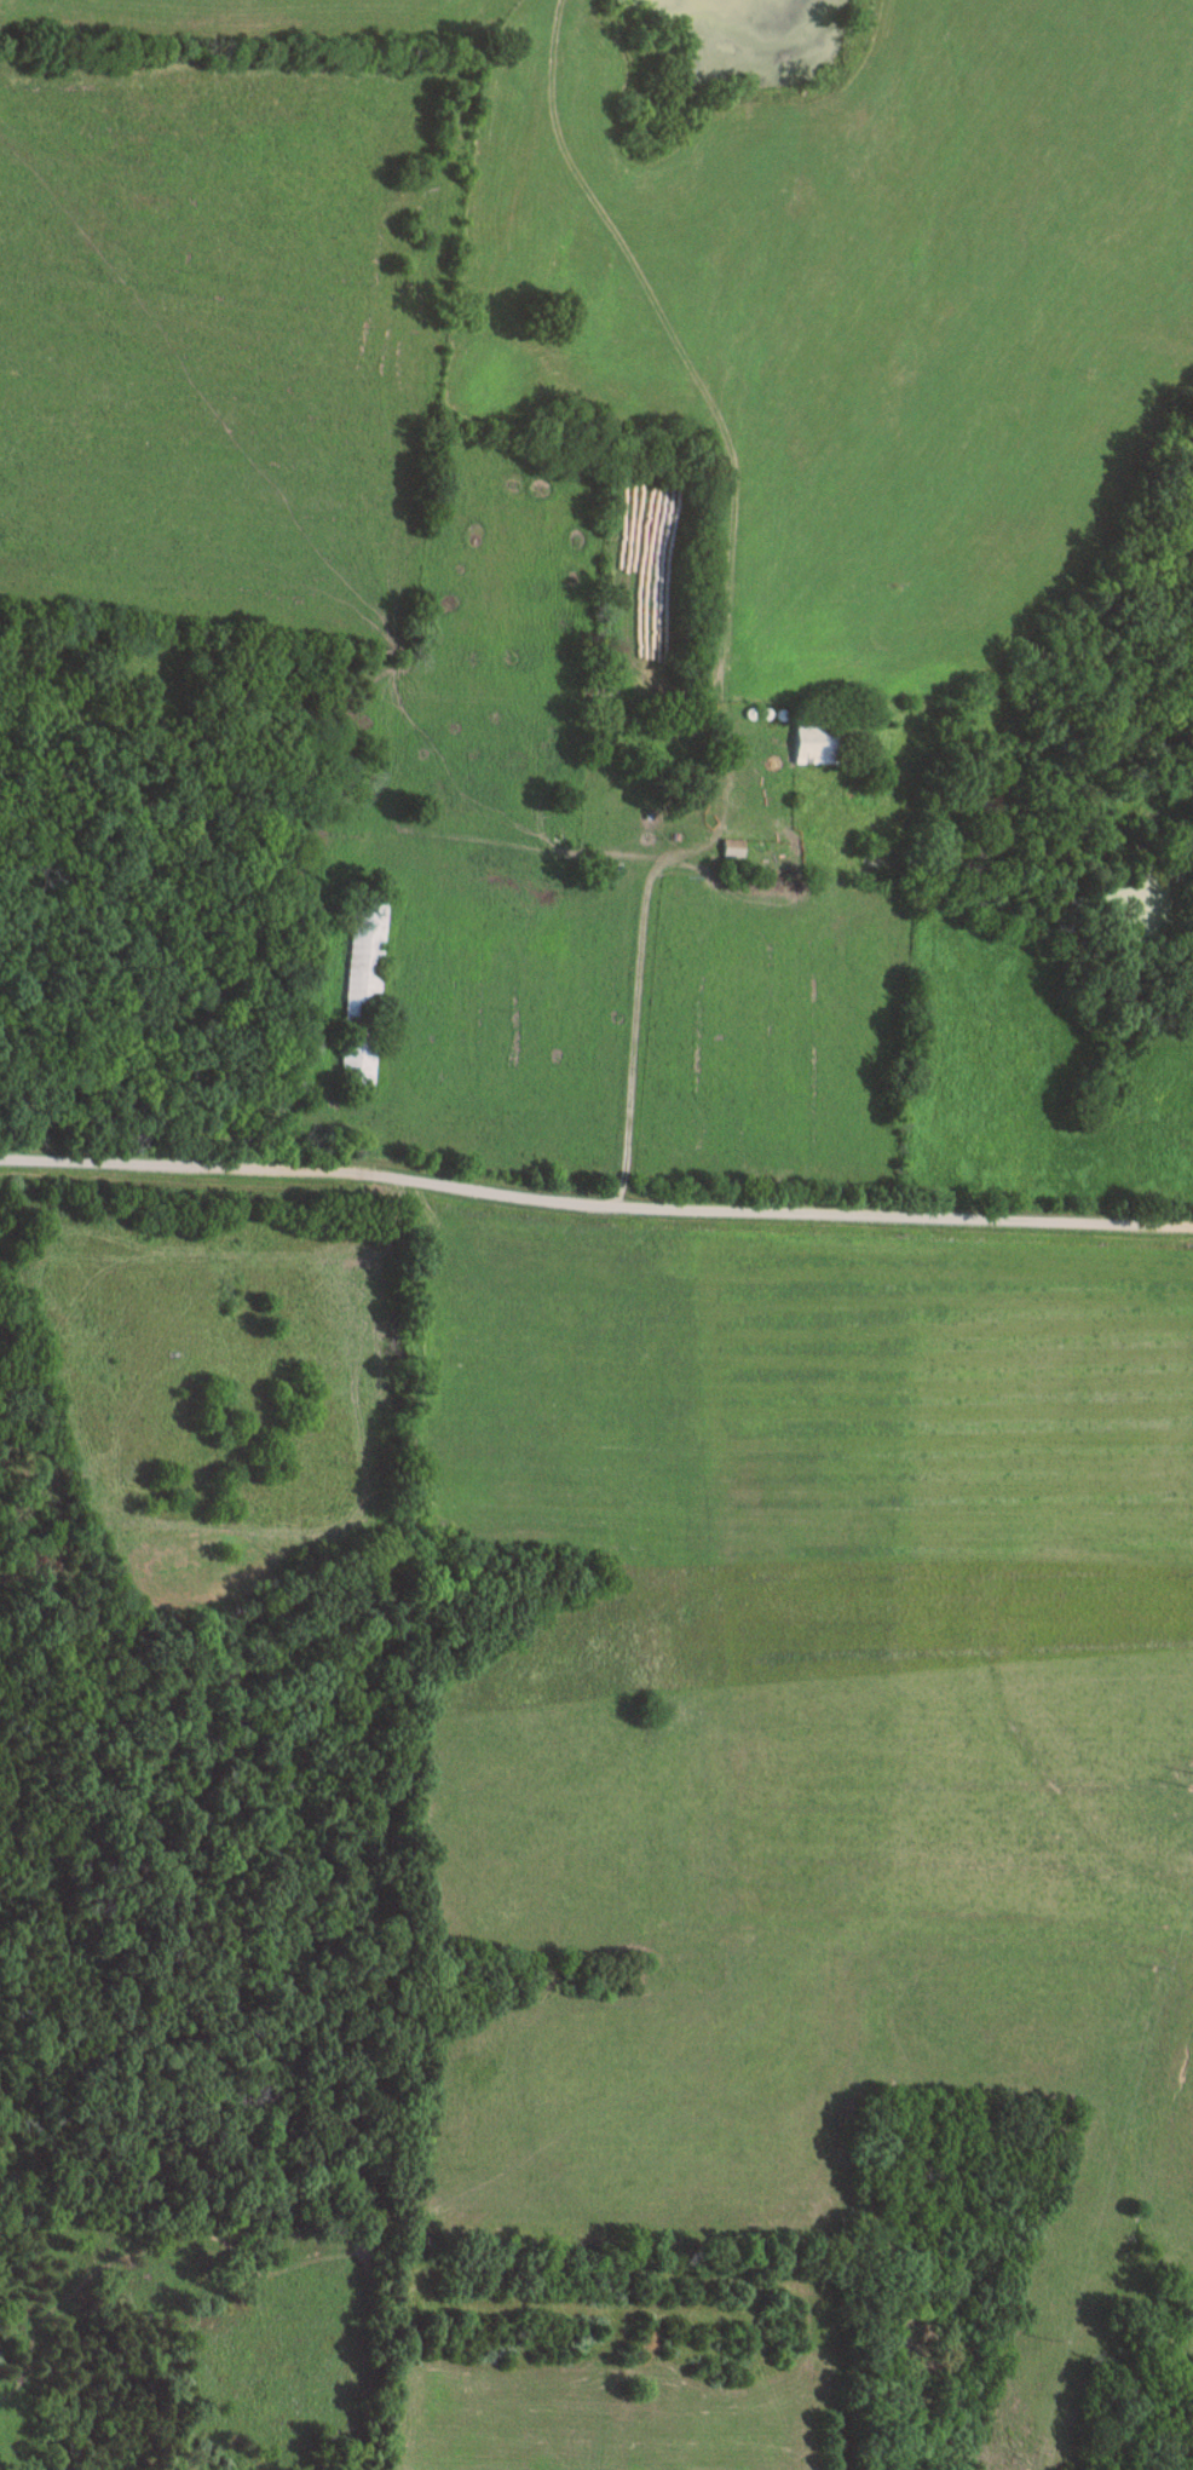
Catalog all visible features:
building: (823, 741)
building: (664, 758)
building: (733, 847)
building: (881, 856)
building: (364, 985)
road: (594, 1207)
crop: (805, 1706)

